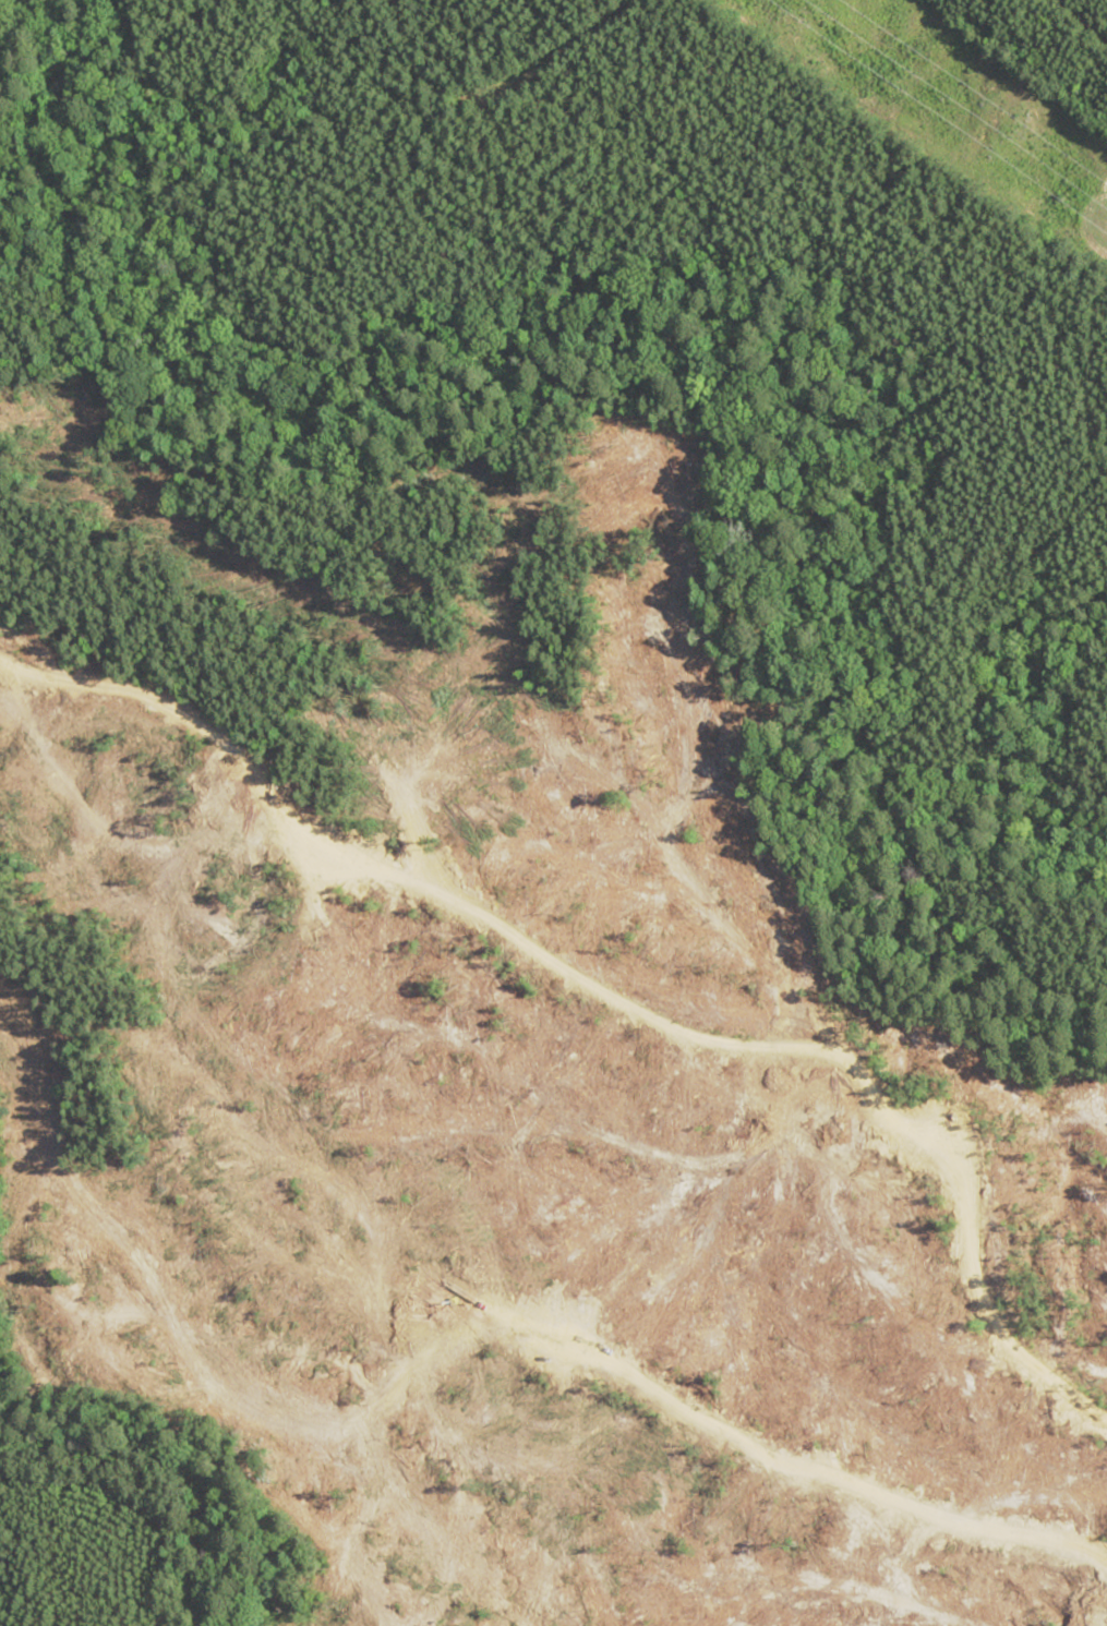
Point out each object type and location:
road: (940, 1263)

